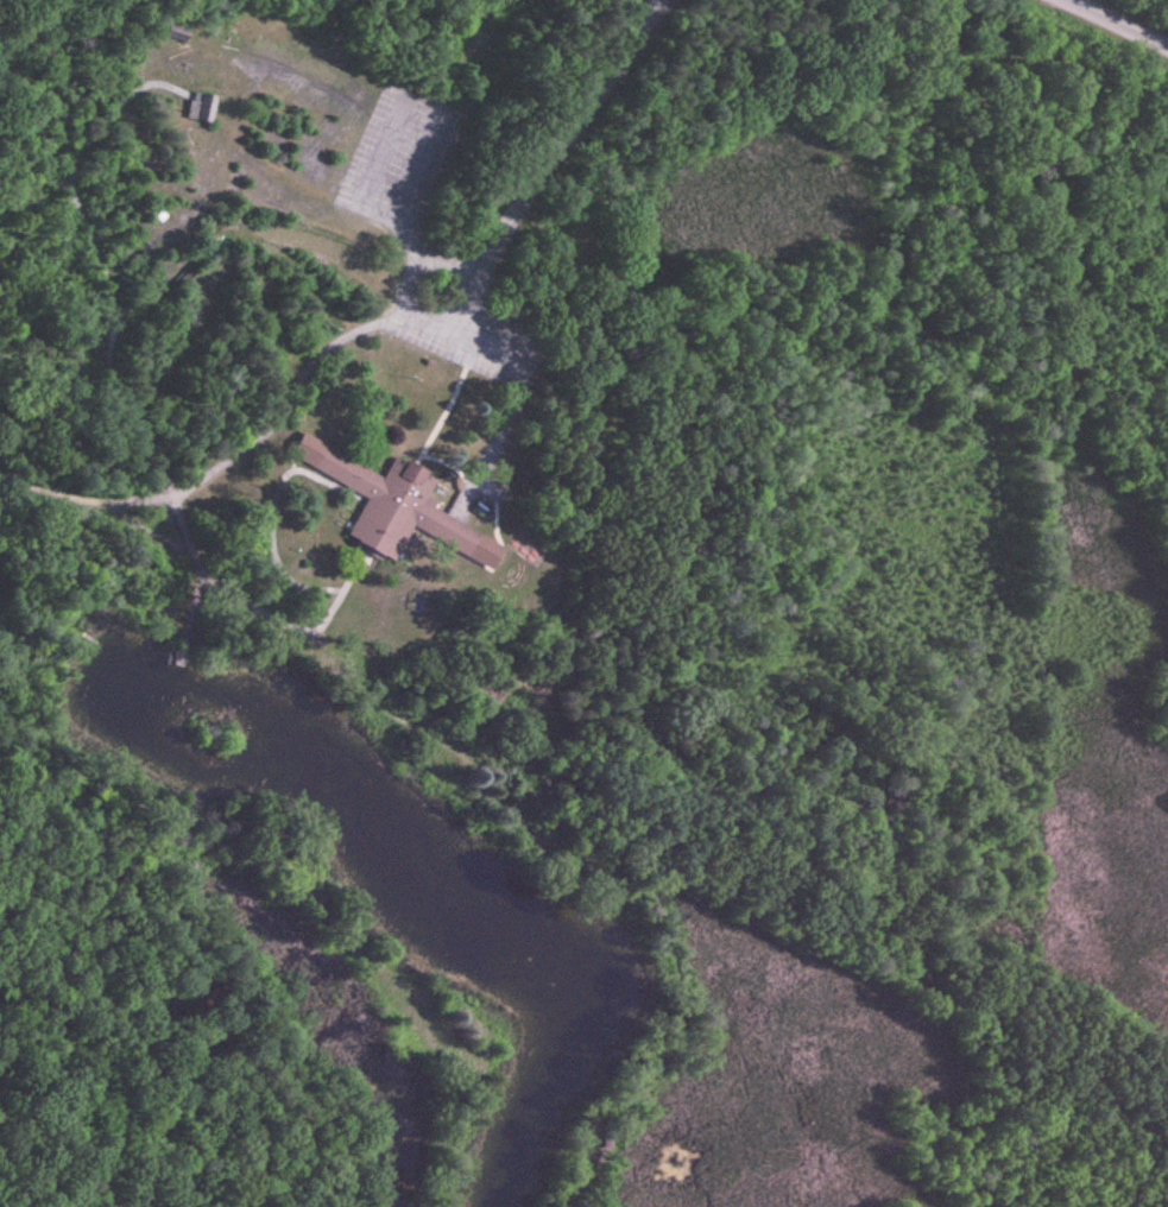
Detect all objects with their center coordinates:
road: (1118, 23)
building: (177, 31)
building: (200, 107)
road: (549, 140)
building: (394, 505)
road: (171, 956)

